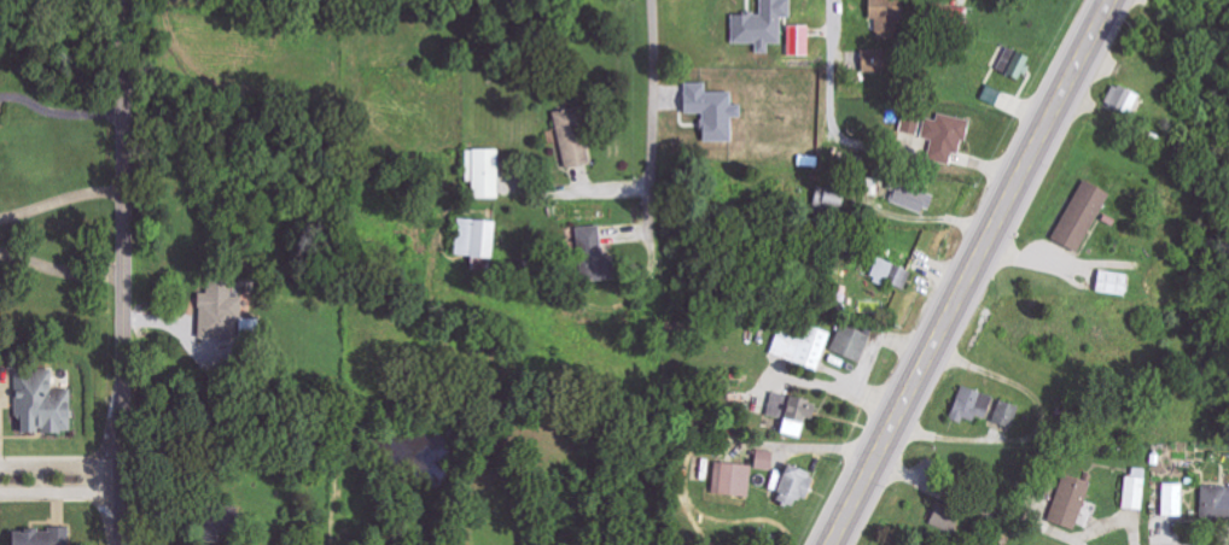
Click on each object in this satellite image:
building: (959, 16)
building: (886, 18)
building: (761, 24)
building: (872, 60)
building: (1014, 64)
building: (1120, 100)
building: (711, 111)
road: (59, 112)
building: (911, 121)
building: (572, 135)
building: (944, 136)
road: (654, 143)
building: (483, 172)
building: (909, 197)
building: (829, 200)
road: (59, 201)
building: (1081, 216)
building: (474, 239)
building: (590, 252)
road: (59, 269)
road: (122, 272)
road: (972, 272)
building: (891, 275)
building: (1112, 282)
building: (217, 313)
building: (850, 342)
building: (802, 347)
building: (40, 403)
building: (971, 405)
building: (791, 412)
building: (764, 459)
road: (60, 476)
building: (733, 479)
building: (793, 485)
building: (1134, 490)
building: (1172, 500)
building: (1070, 502)
building: (1215, 503)
building: (946, 514)
building: (39, 537)

